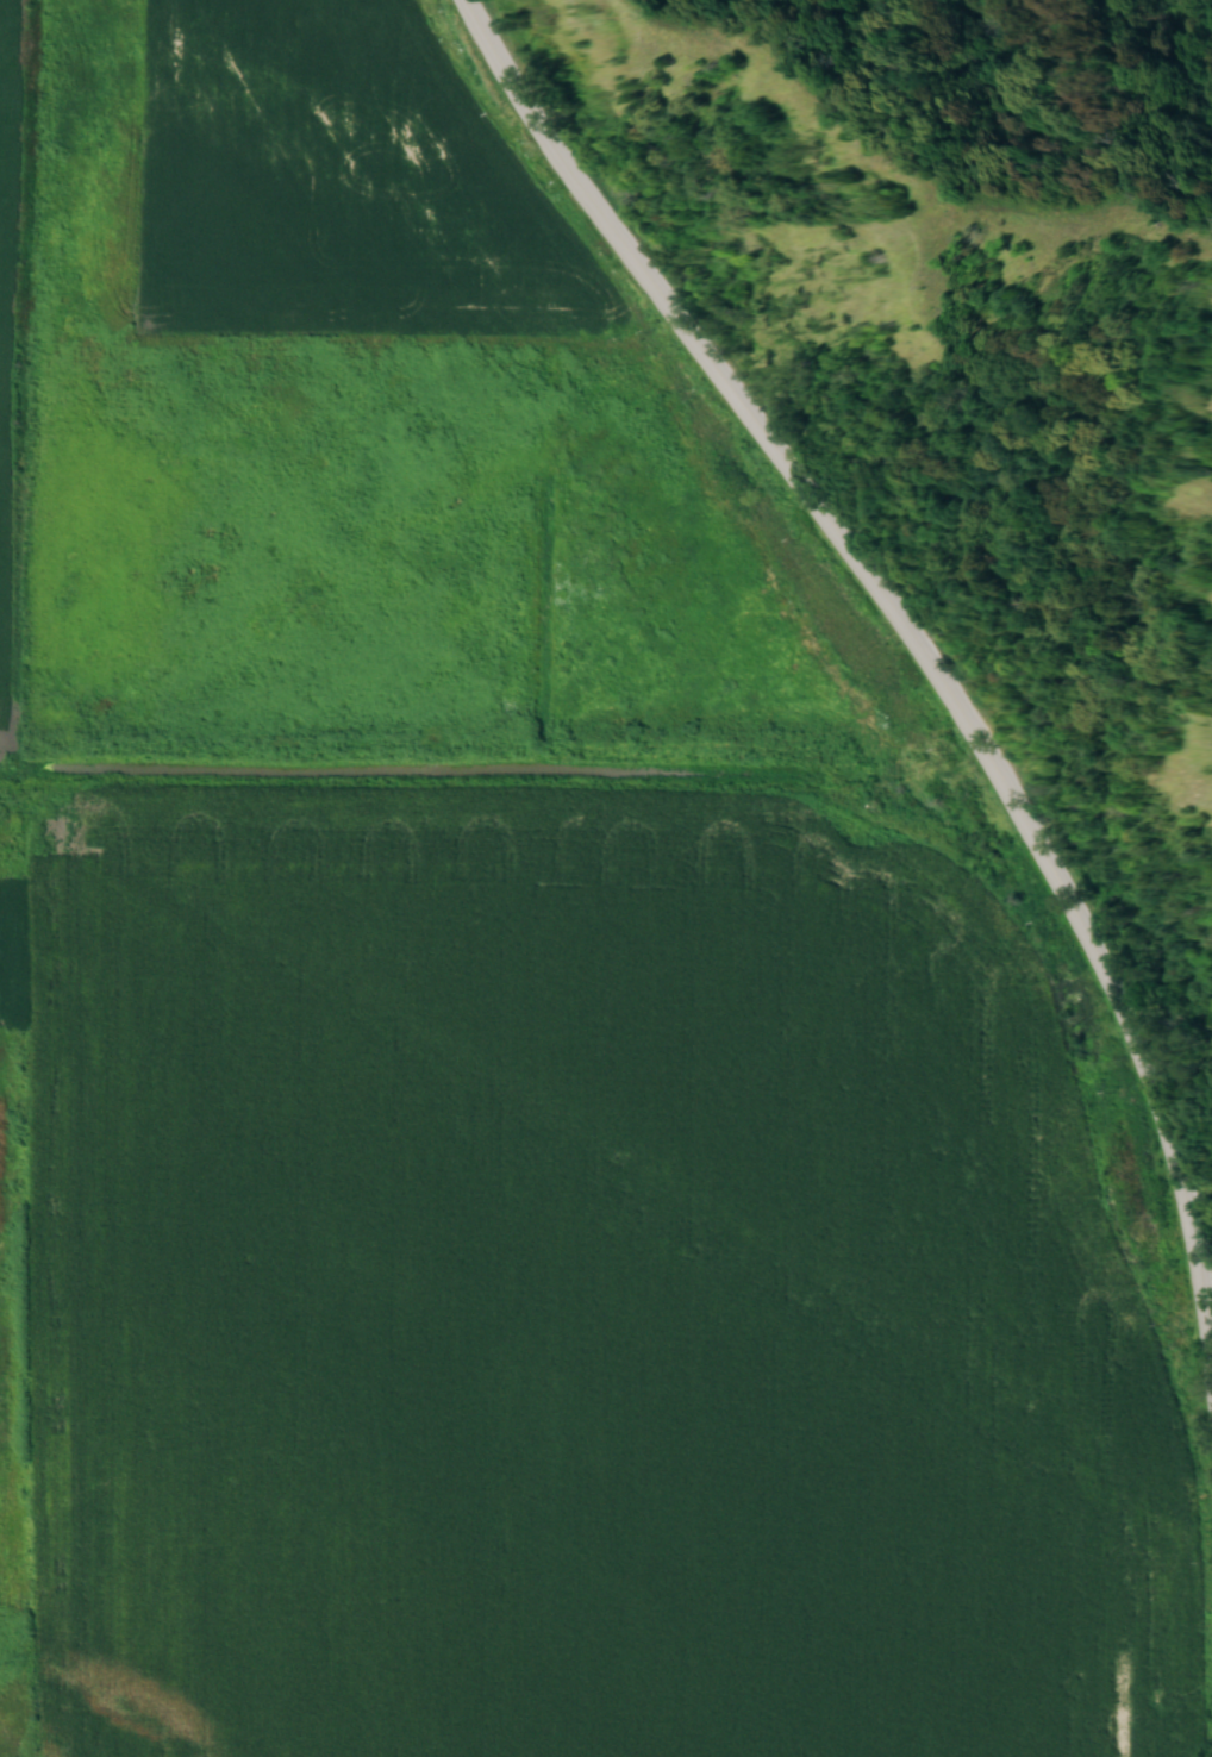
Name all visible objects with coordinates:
road: (929, 681)

